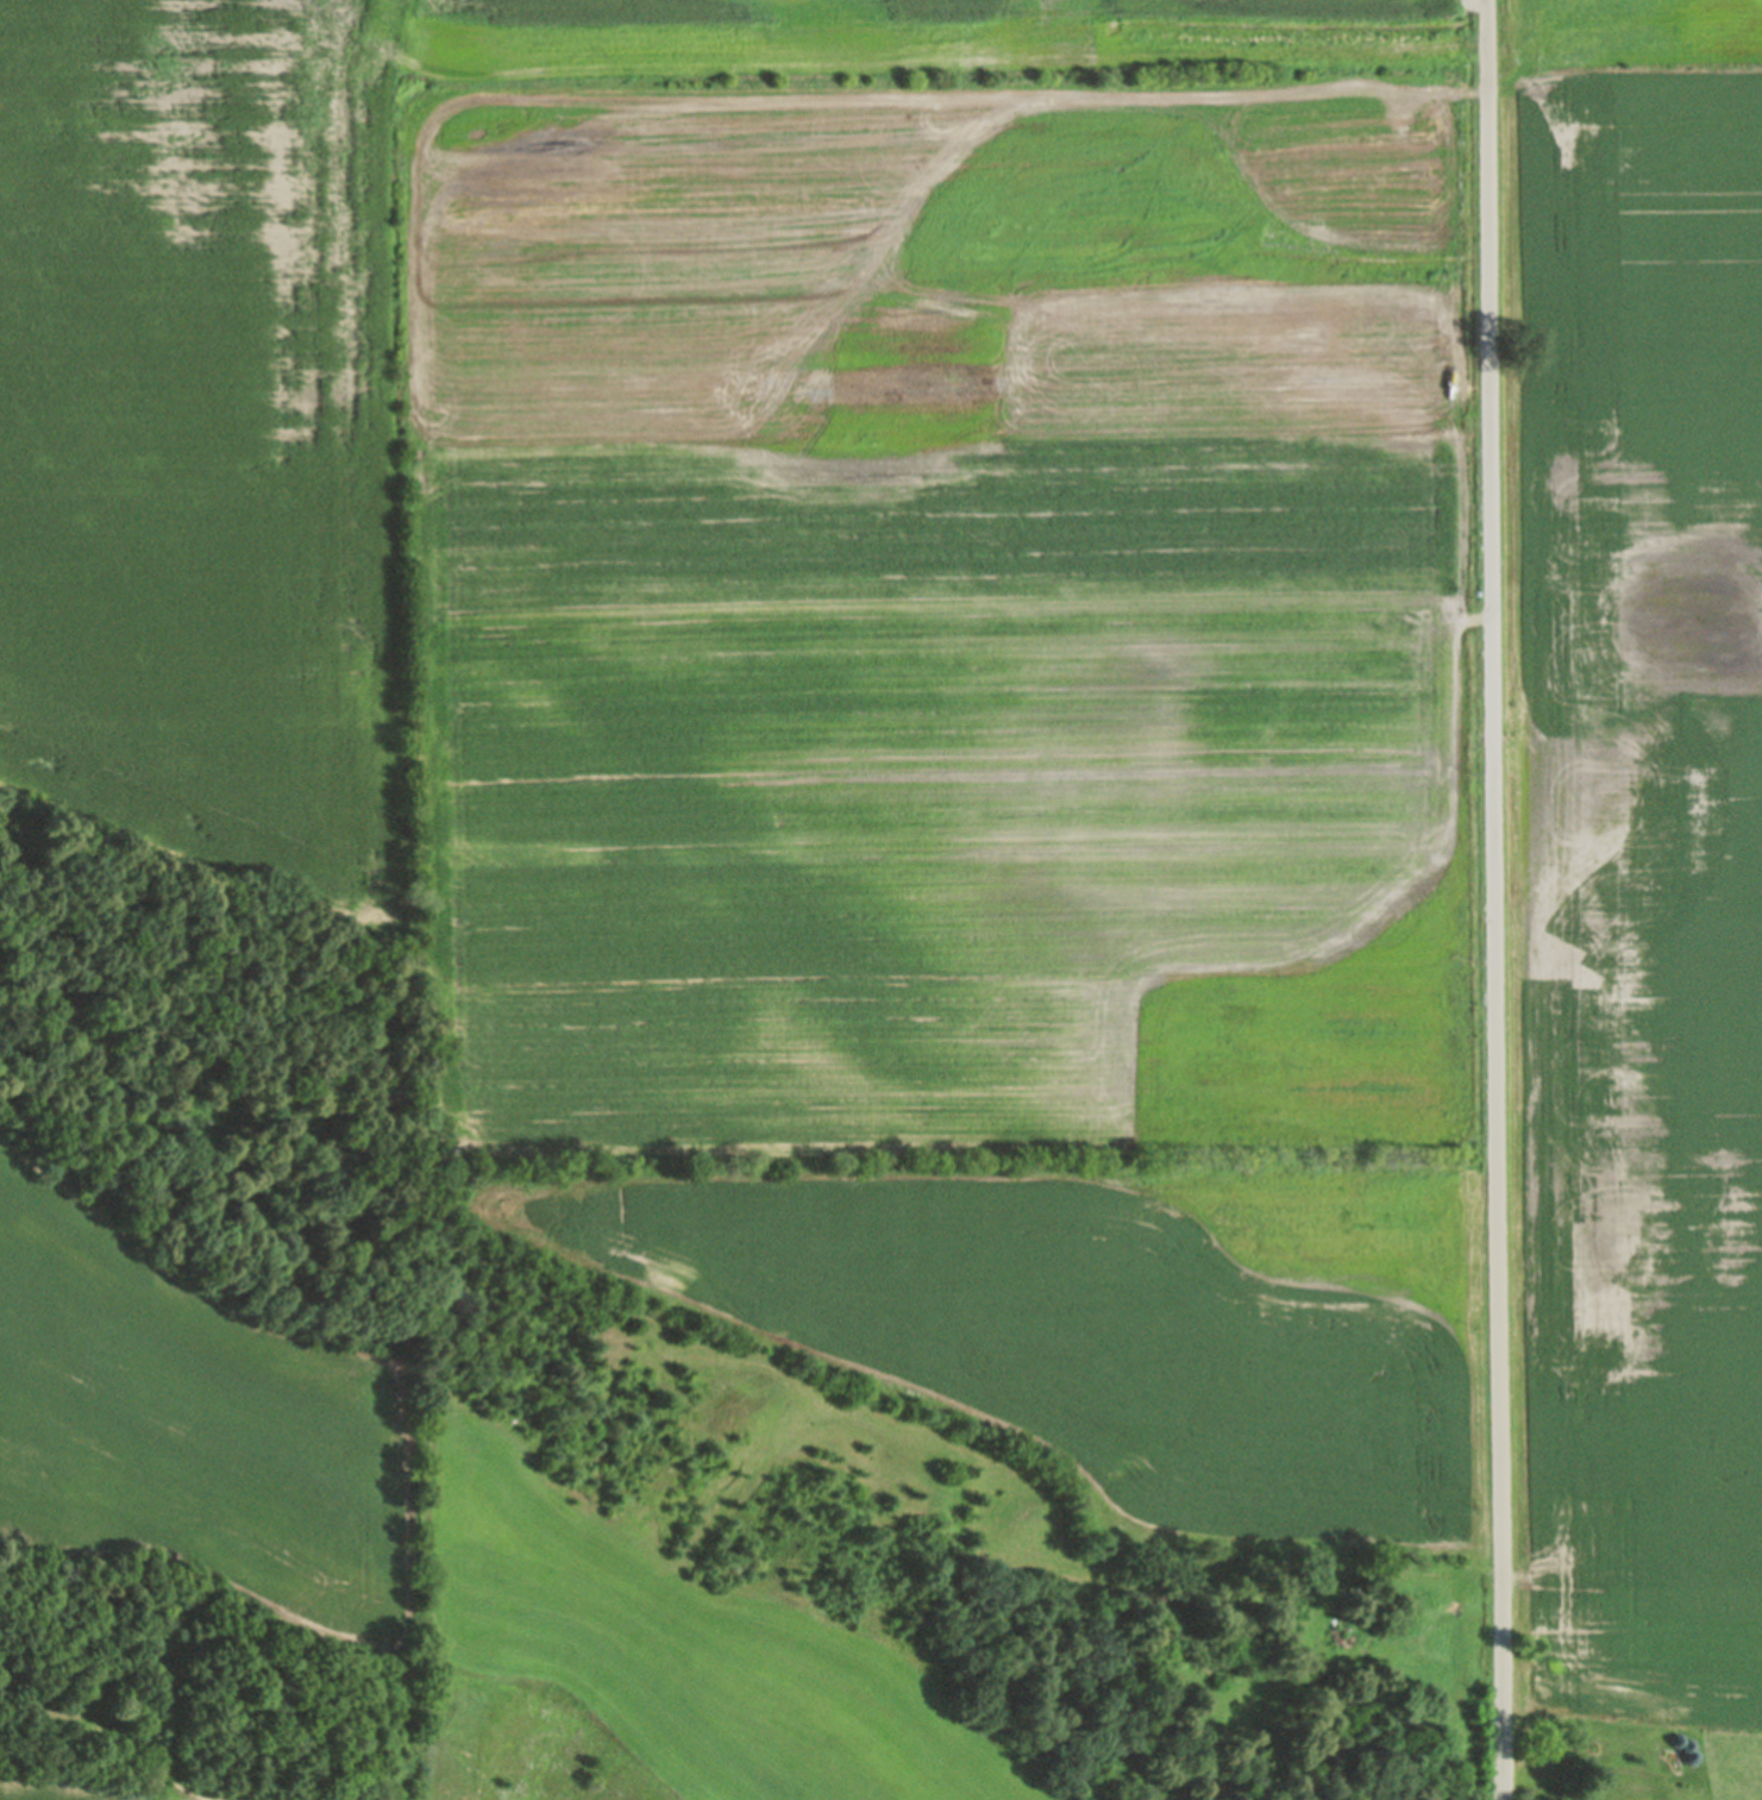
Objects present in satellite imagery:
road: (1495, 899)
road: (111, 1673)
road: (42, 1701)

